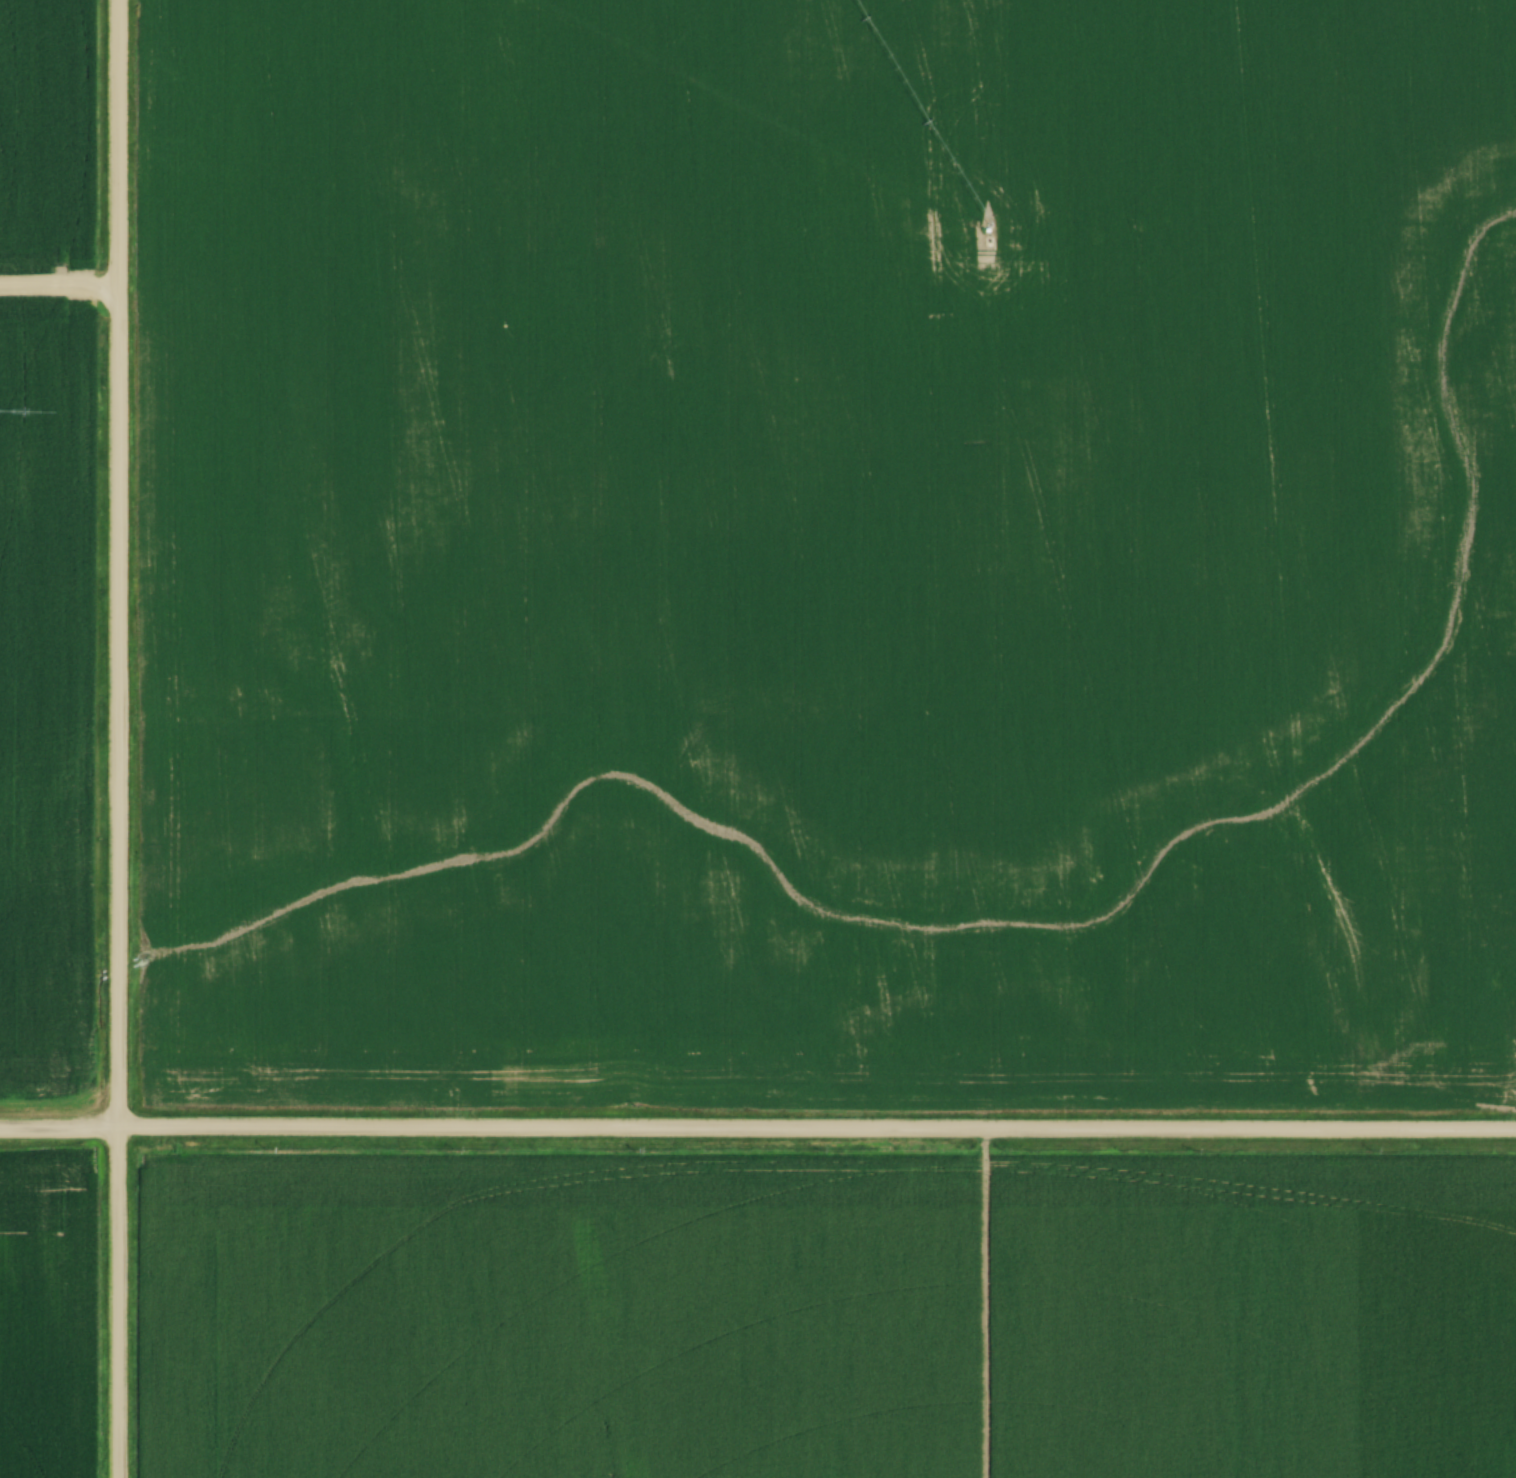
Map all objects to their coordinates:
road: (60, 283)
road: (121, 739)
road: (818, 1125)
road: (60, 1126)

